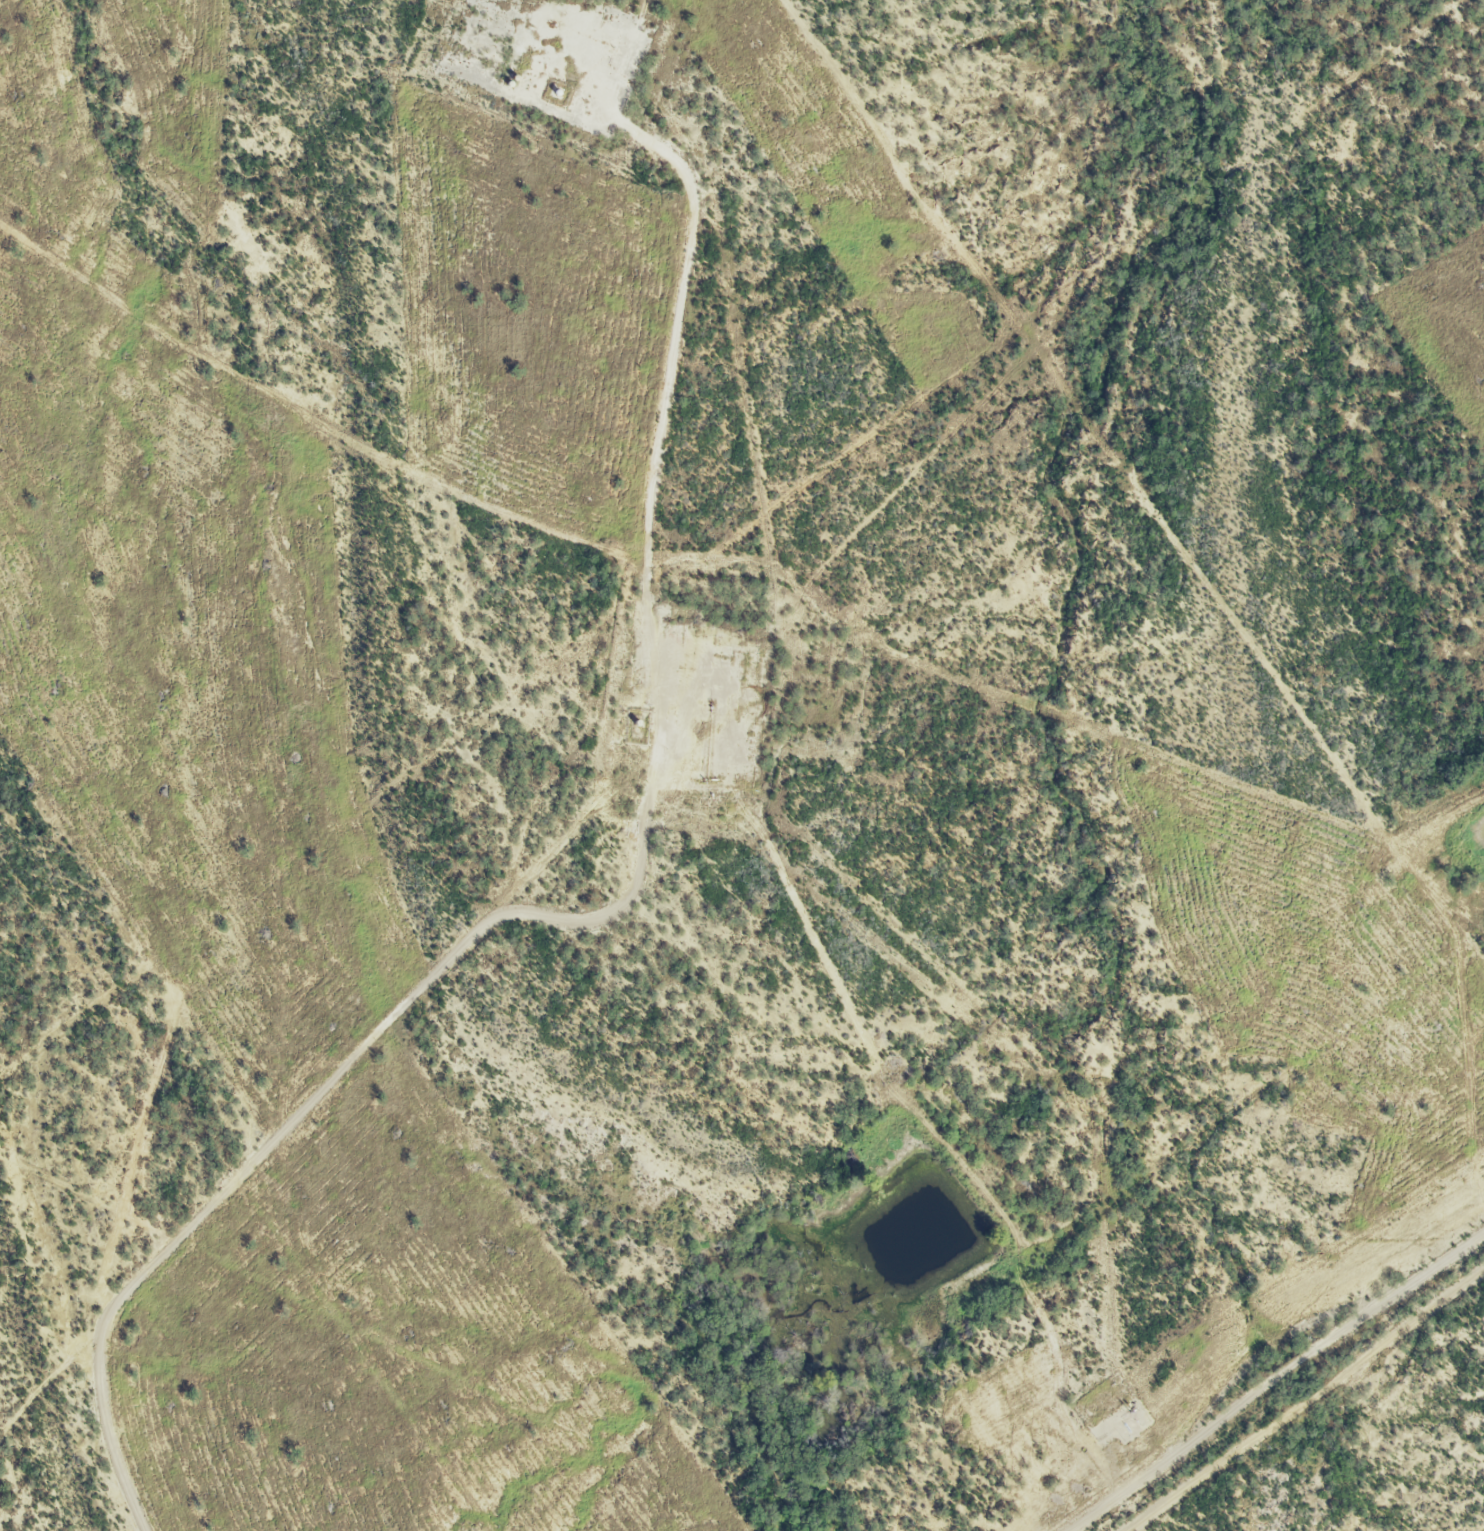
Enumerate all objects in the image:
road: (1274, 1377)
road: (1329, 1415)

